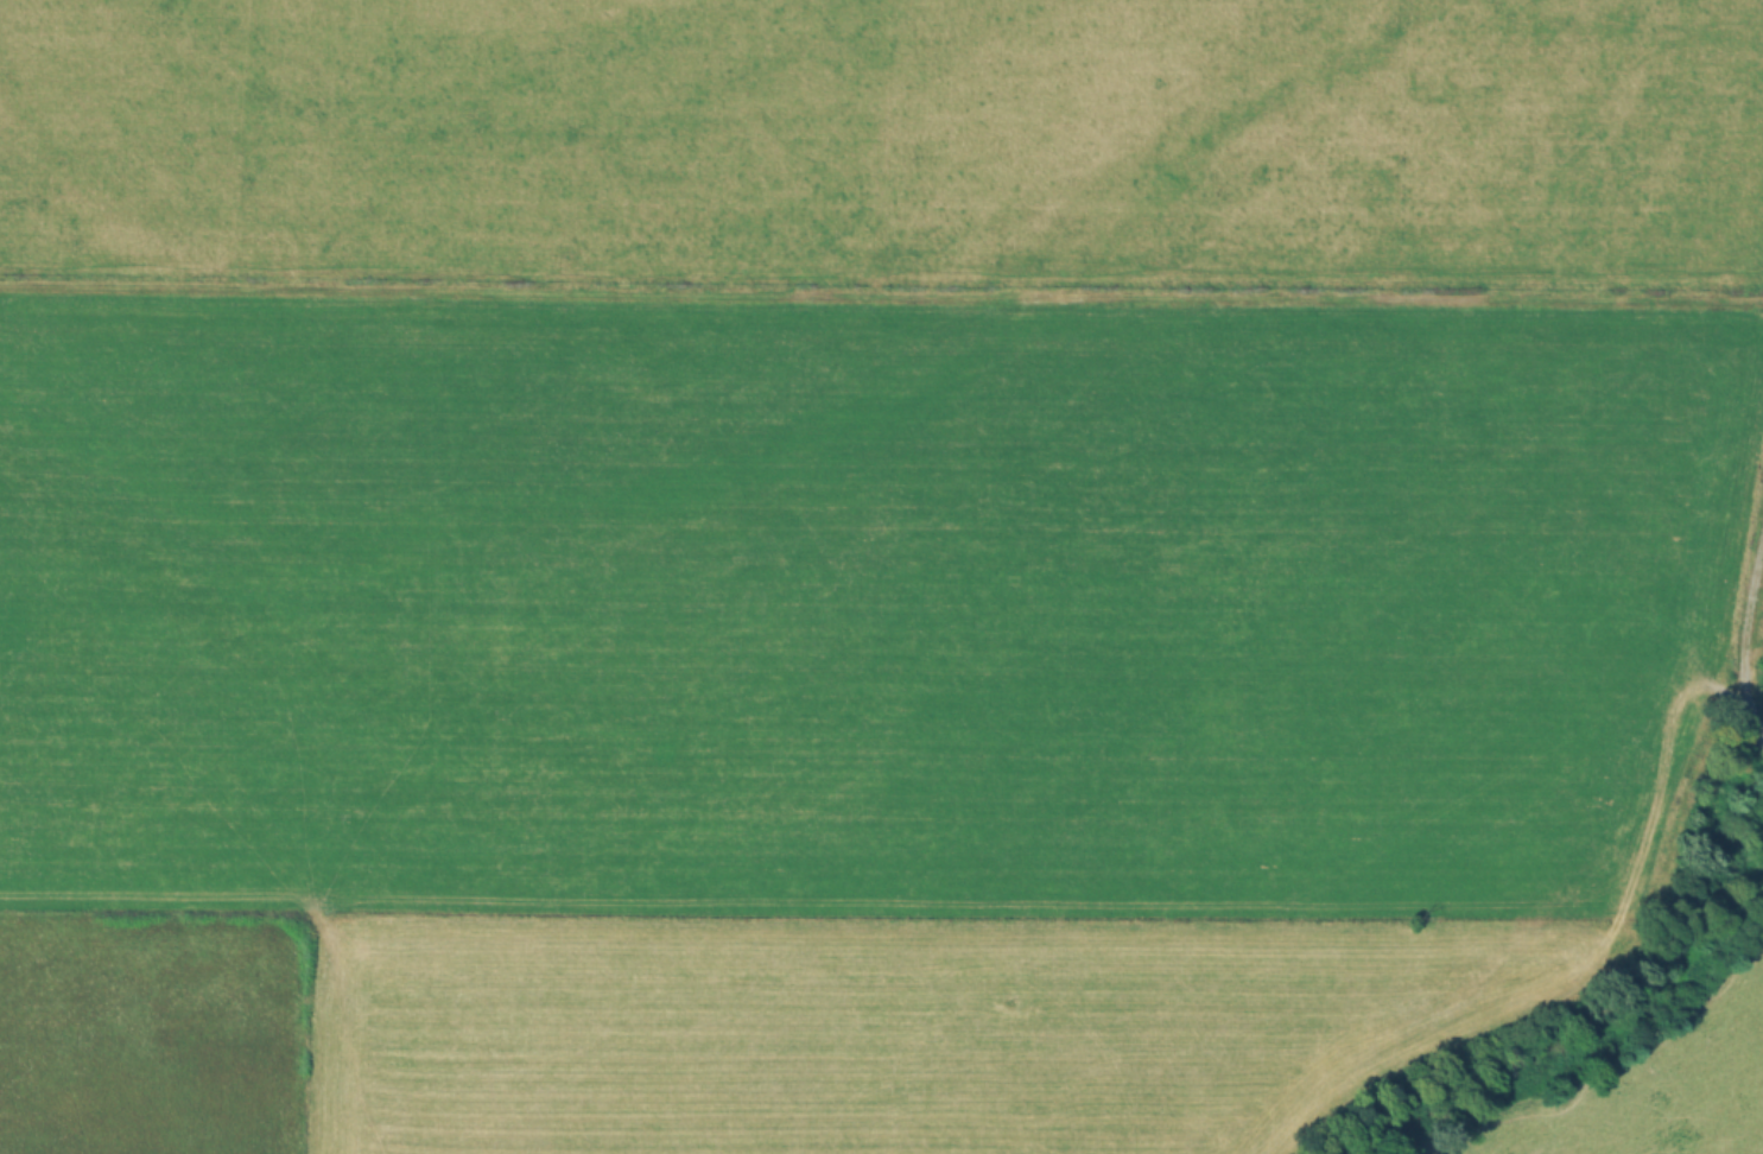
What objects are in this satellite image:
crop: (881, 577)

